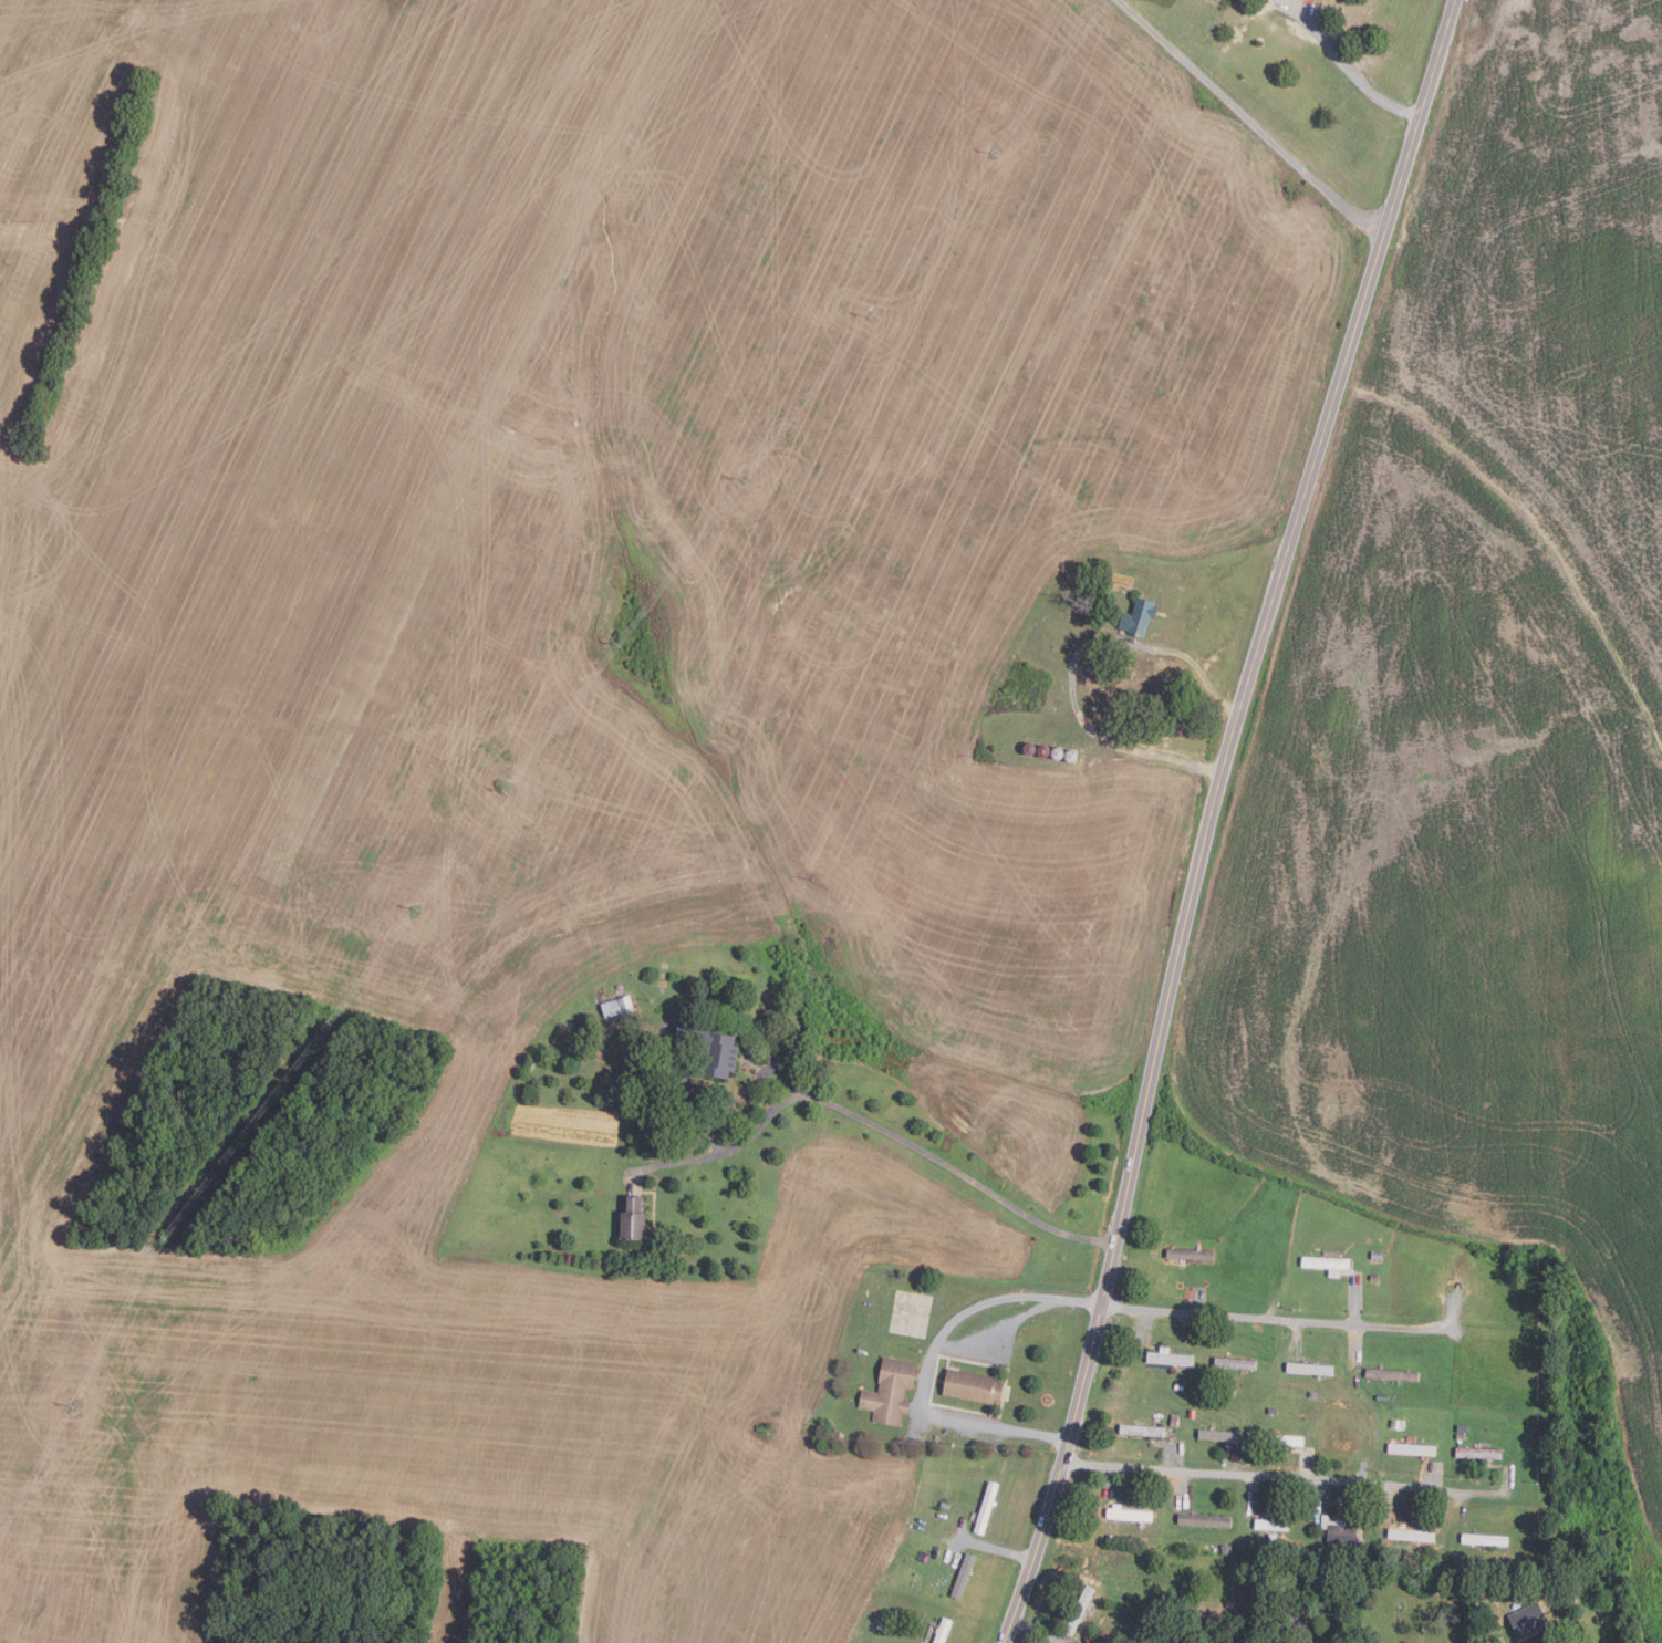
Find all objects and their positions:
building: (1306, 0)
road: (1359, 84)
road: (1249, 121)
building: (1015, 593)
building: (1139, 617)
road: (1073, 666)
building: (1030, 686)
road: (1213, 817)
building: (616, 1006)
building: (709, 1048)
road: (729, 1150)
road: (949, 1165)
building: (631, 1218)
building: (1188, 1254)
building: (1377, 1256)
building: (1325, 1262)
building: (1374, 1277)
road: (1279, 1320)
building: (1170, 1358)
road: (931, 1362)
building: (1235, 1363)
building: (1310, 1369)
building: (1391, 1375)
building: (1178, 1384)
building: (972, 1386)
building: (890, 1391)
building: (1228, 1392)
building: (1312, 1394)
building: (1271, 1410)
building: (1192, 1413)
building: (1174, 1420)
building: (1398, 1424)
building: (1143, 1431)
building: (1219, 1435)
building: (1461, 1436)
building: (1280, 1439)
building: (1411, 1448)
building: (1478, 1453)
road: (1284, 1478)
building: (944, 1505)
building: (986, 1507)
building: (1129, 1514)
building: (1205, 1519)
building: (1271, 1525)
building: (1338, 1530)
building: (1411, 1535)
building: (1144, 1537)
building: (1485, 1539)
building: (1359, 1545)
building: (1296, 1546)
road: (998, 1549)
building: (1226, 1549)
building: (1315, 1549)
building: (1413, 1560)
building: (1516, 1568)
building: (963, 1576)
building: (1434, 1588)
building: (1474, 1593)
building: (1074, 1613)
building: (1527, 1619)
building: (881, 1625)
building: (890, 1629)
building: (943, 1630)
road: (1037, 1630)

